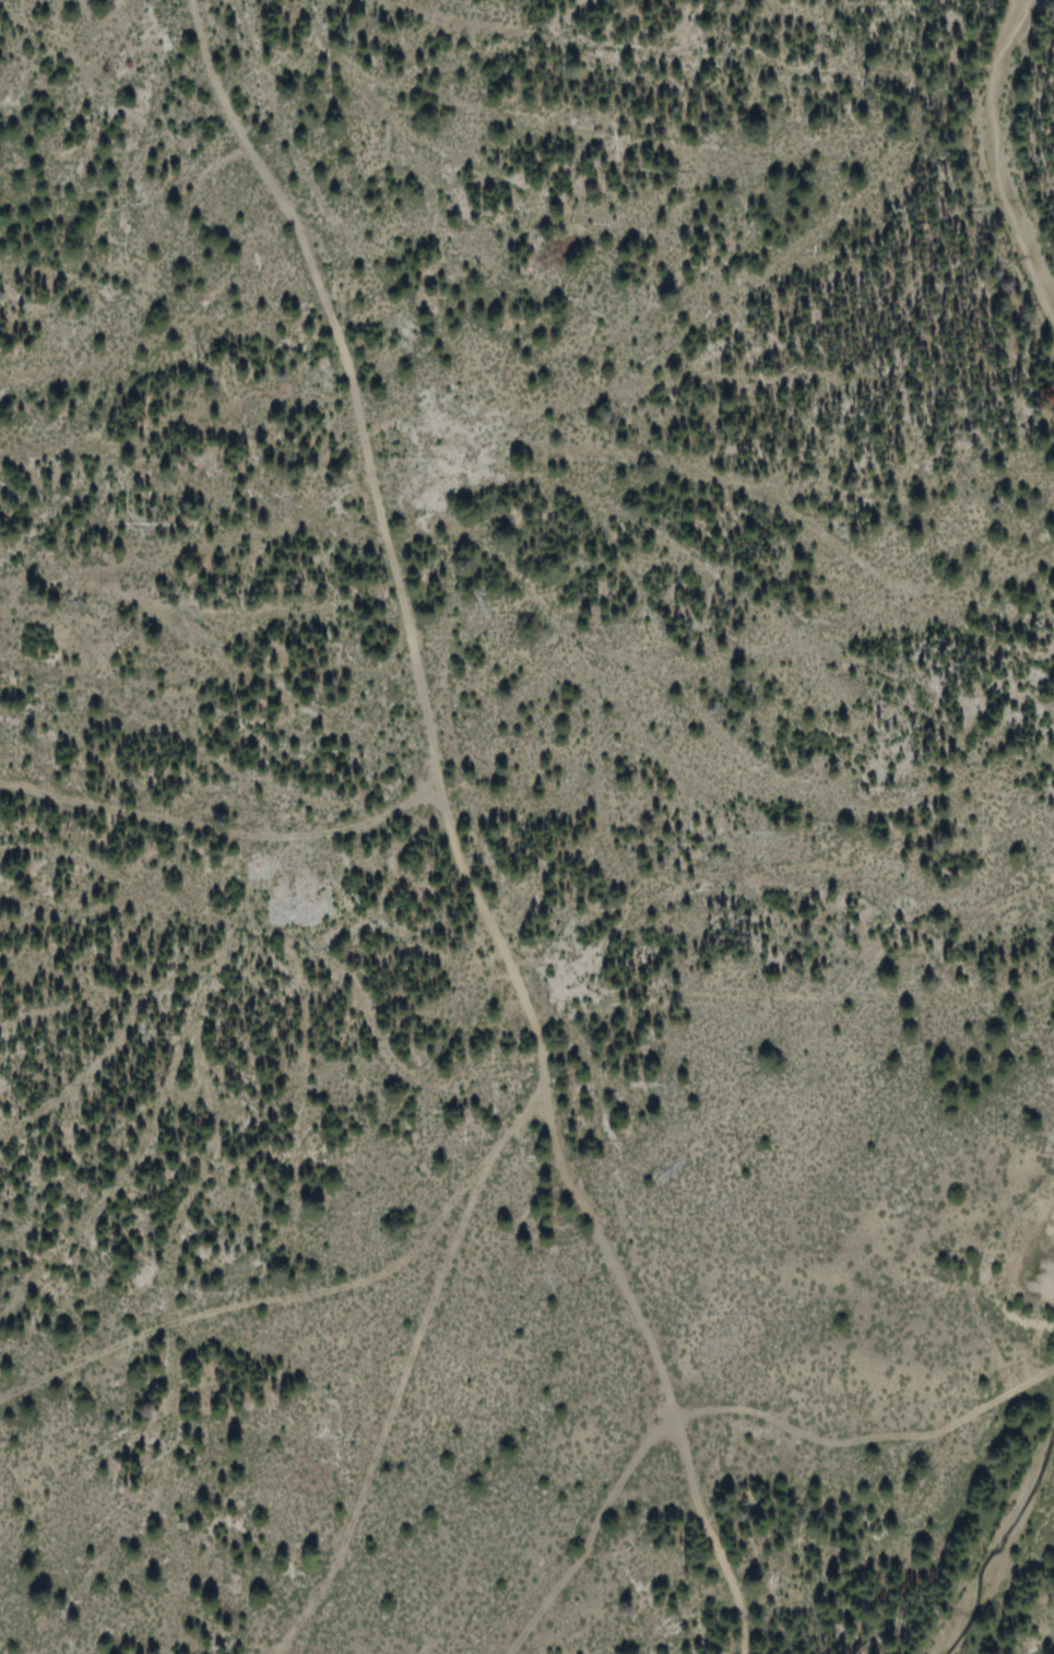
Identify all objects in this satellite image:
road: (513, 812)

